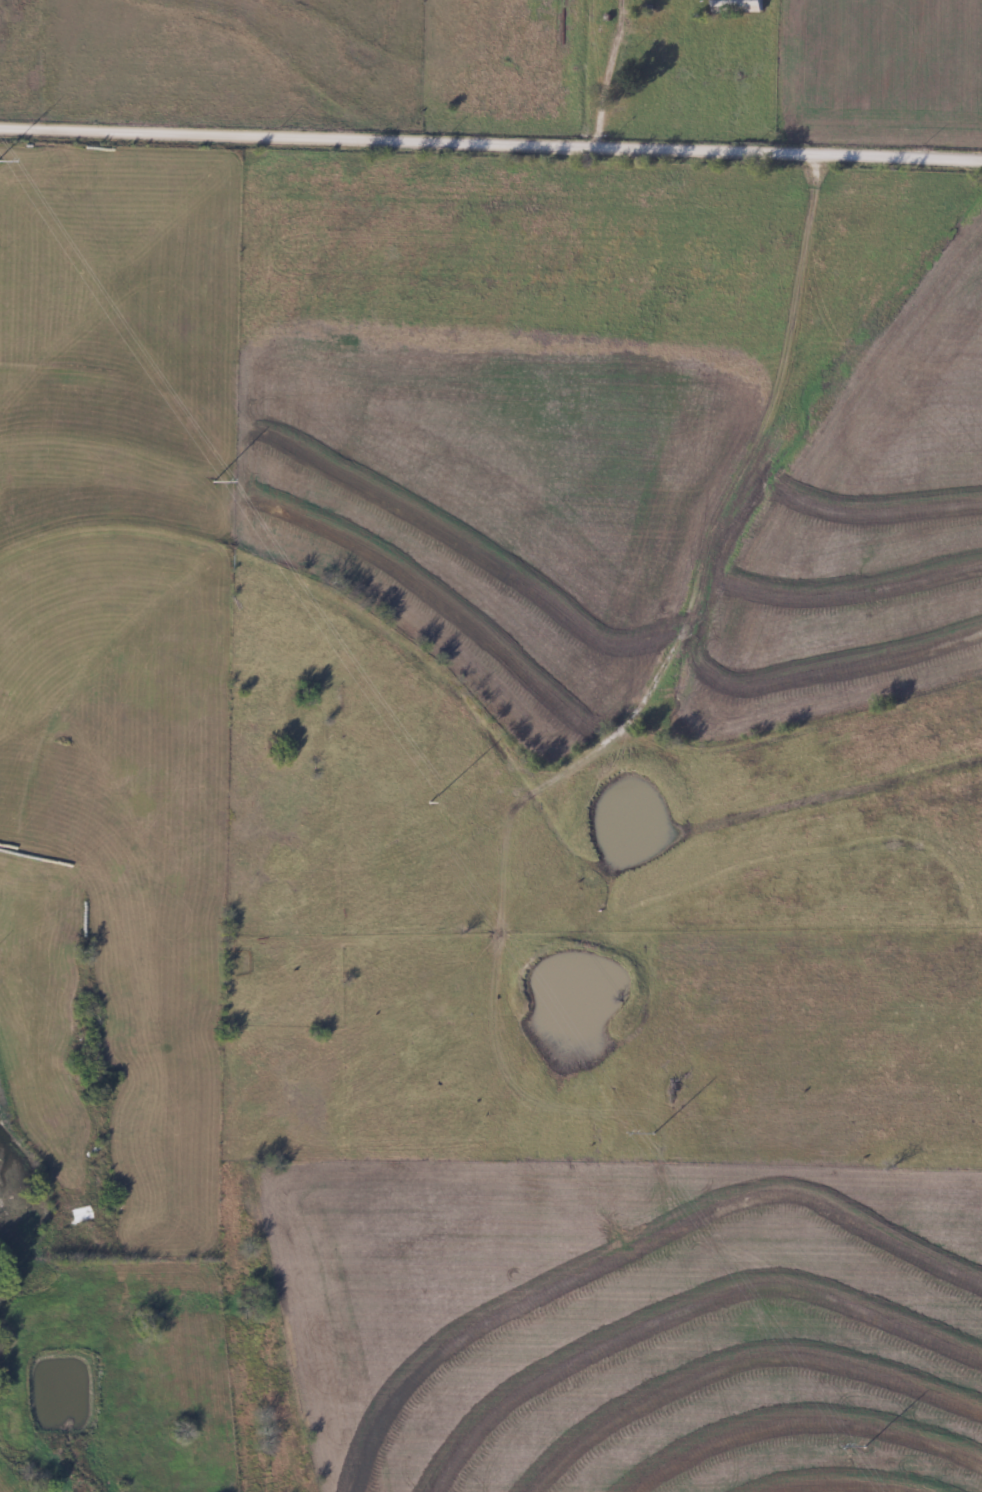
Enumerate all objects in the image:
building: (736, 6)
road: (606, 65)
road: (491, 132)

